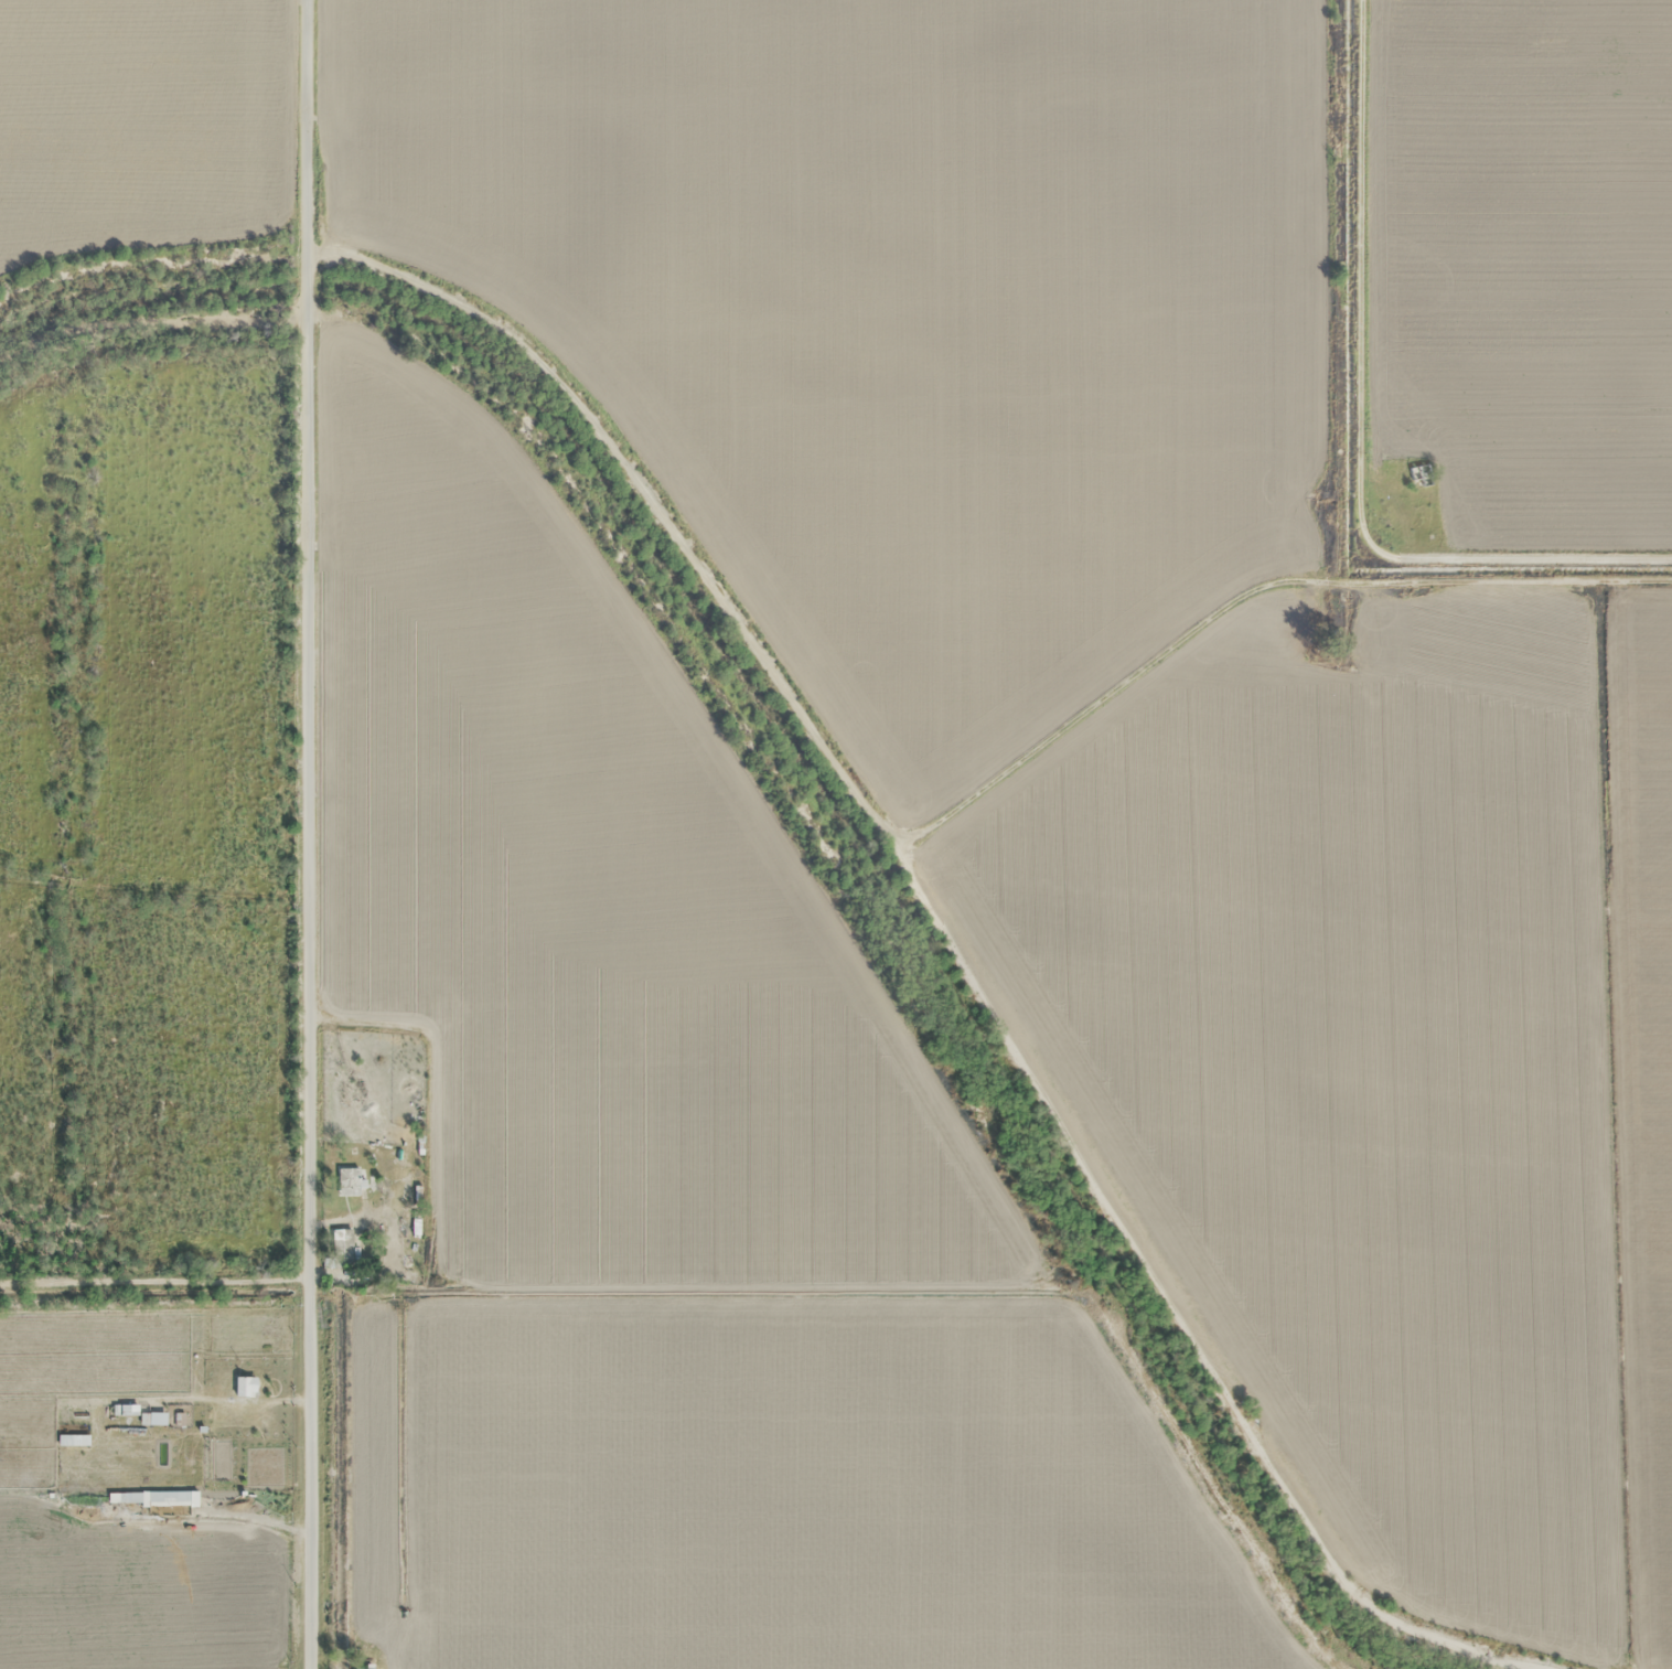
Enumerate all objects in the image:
road: (307, 834)

